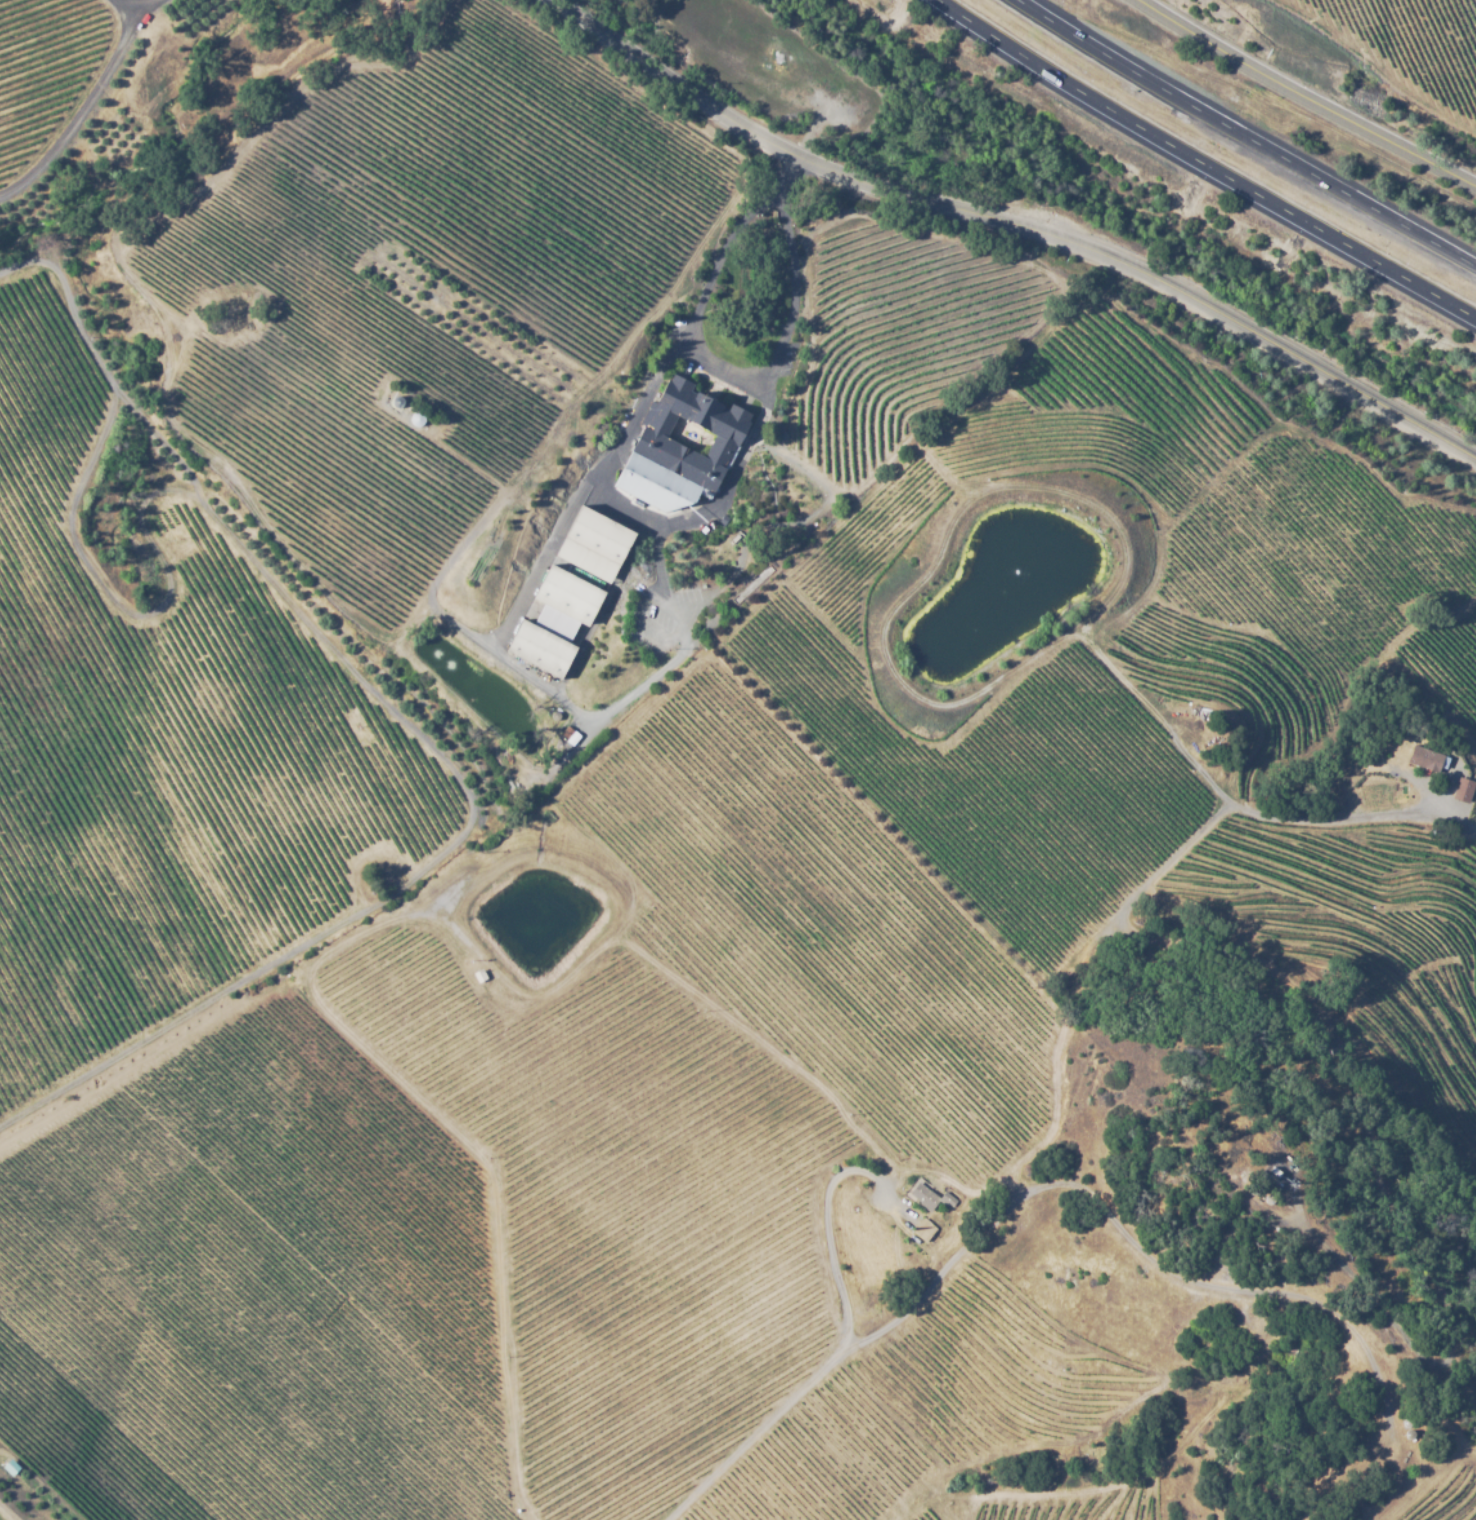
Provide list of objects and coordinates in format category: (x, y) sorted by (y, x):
road: (139, 13)
road: (1306, 97)
road: (75, 108)
road: (1244, 136)
road: (1200, 164)
road: (1014, 224)
building: (434, 297)
building: (395, 401)
building: (416, 418)
building: (681, 448)
building: (595, 543)
building: (555, 619)
building: (555, 714)
building: (566, 731)
building: (573, 737)
building: (1381, 741)
building: (1426, 748)
building: (1461, 790)
building: (478, 976)
building: (1276, 1172)
building: (924, 1196)
building: (949, 1199)
building: (1268, 1199)
building: (925, 1230)
building: (1406, 1422)
building: (1409, 1432)
building: (10, 1466)

